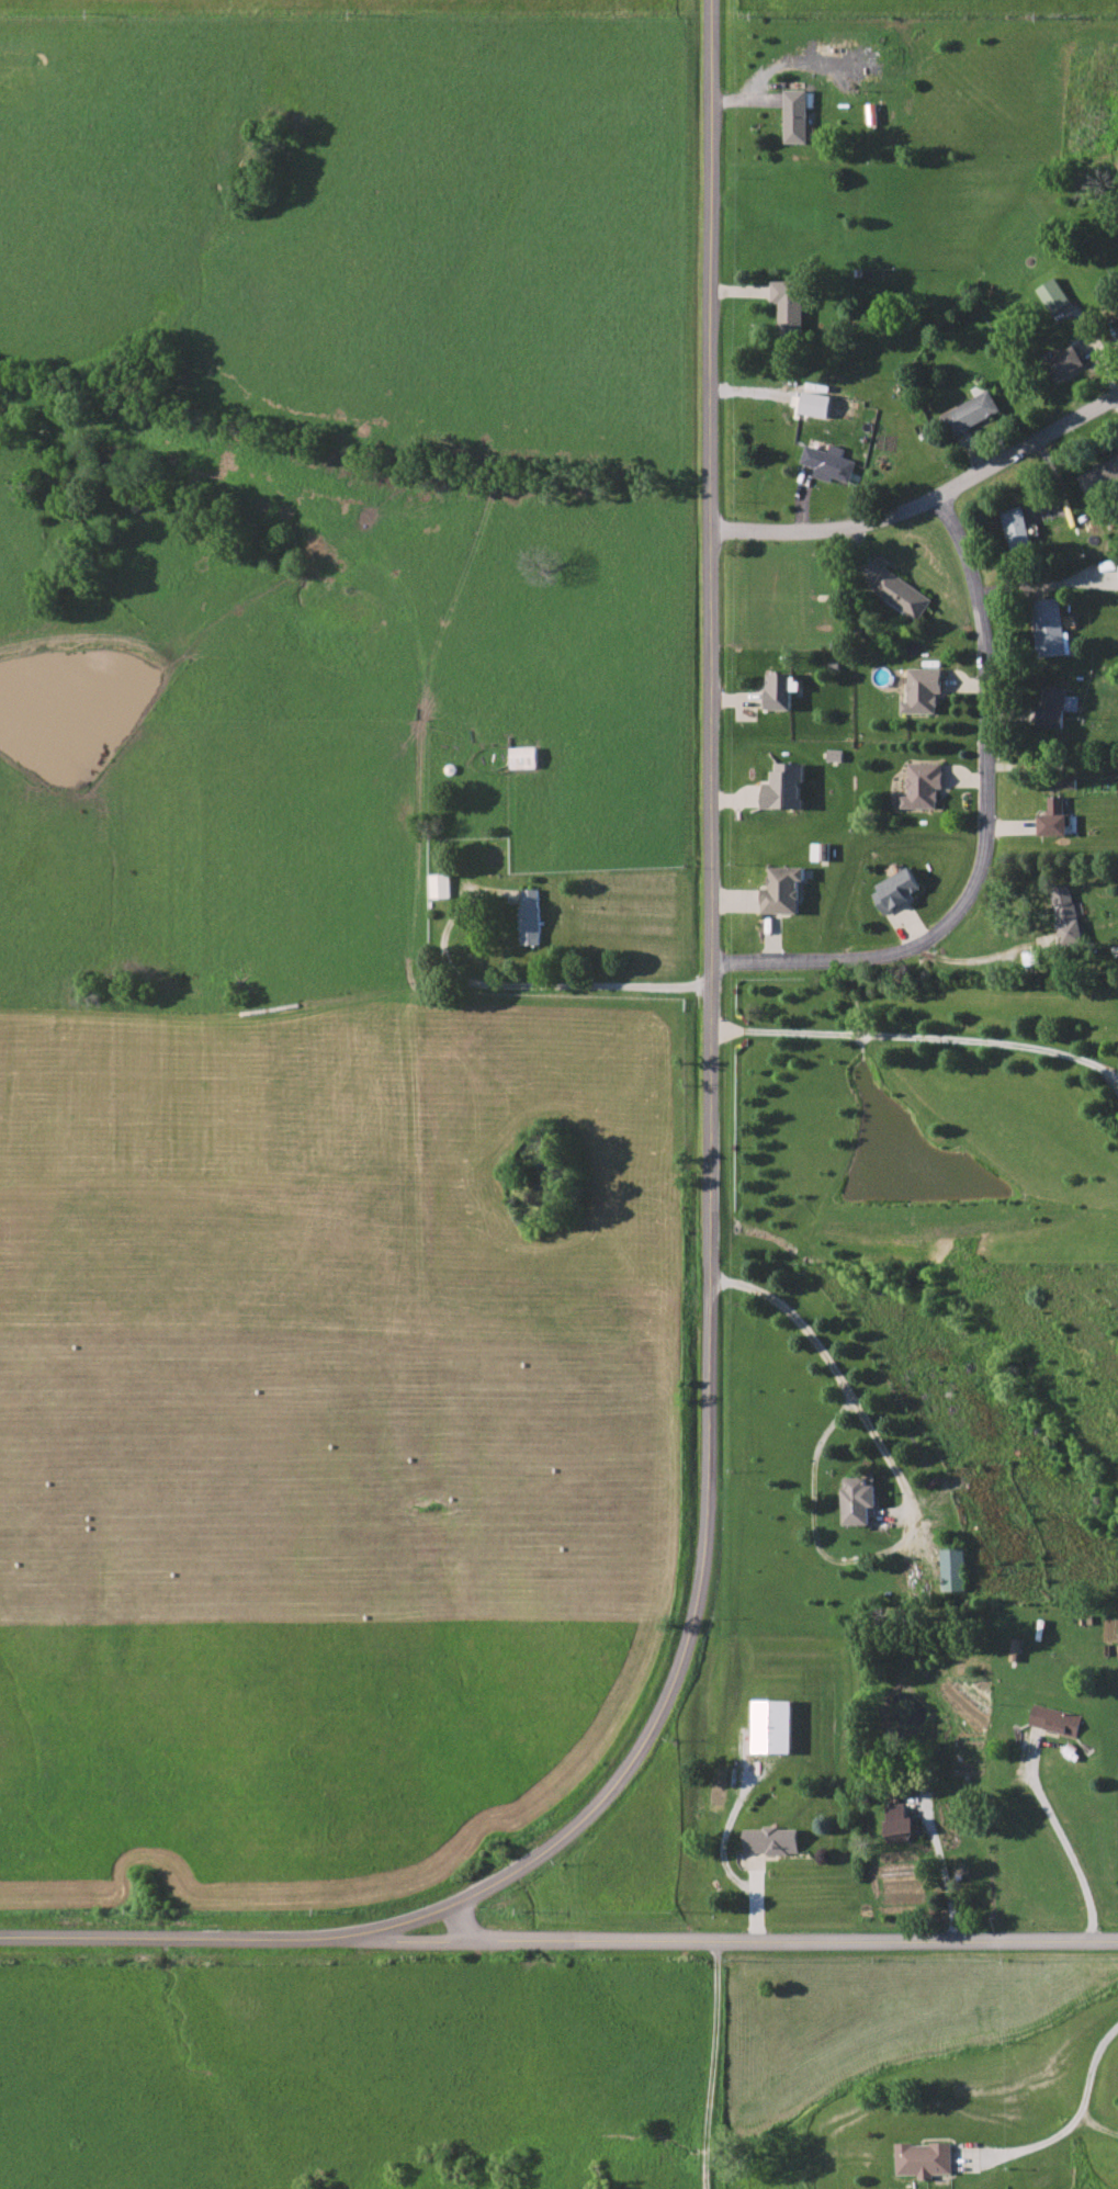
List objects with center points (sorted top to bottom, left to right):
building: (797, 115)
building: (1053, 294)
building: (790, 305)
building: (1064, 361)
building: (816, 404)
building: (973, 411)
building: (831, 462)
building: (1100, 476)
road: (928, 500)
building: (1017, 527)
building: (902, 593)
building: (1052, 628)
building: (923, 689)
building: (779, 690)
building: (1057, 707)
building: (923, 785)
building: (784, 786)
building: (1054, 817)
road: (993, 830)
building: (820, 850)
building: (441, 884)
building: (783, 890)
building: (895, 890)
building: (1068, 913)
building: (532, 916)
road: (984, 958)
road: (537, 985)
road: (919, 1037)
road: (715, 1060)
road: (908, 1497)
building: (858, 1499)
building: (953, 1569)
building: (1055, 1718)
building: (772, 1726)
building: (901, 1823)
building: (770, 1840)
road: (1065, 1847)
road: (720, 1858)
road: (945, 1877)
road: (176, 1937)
road: (734, 1940)
road: (724, 2064)
road: (1074, 2109)
building: (922, 2158)

